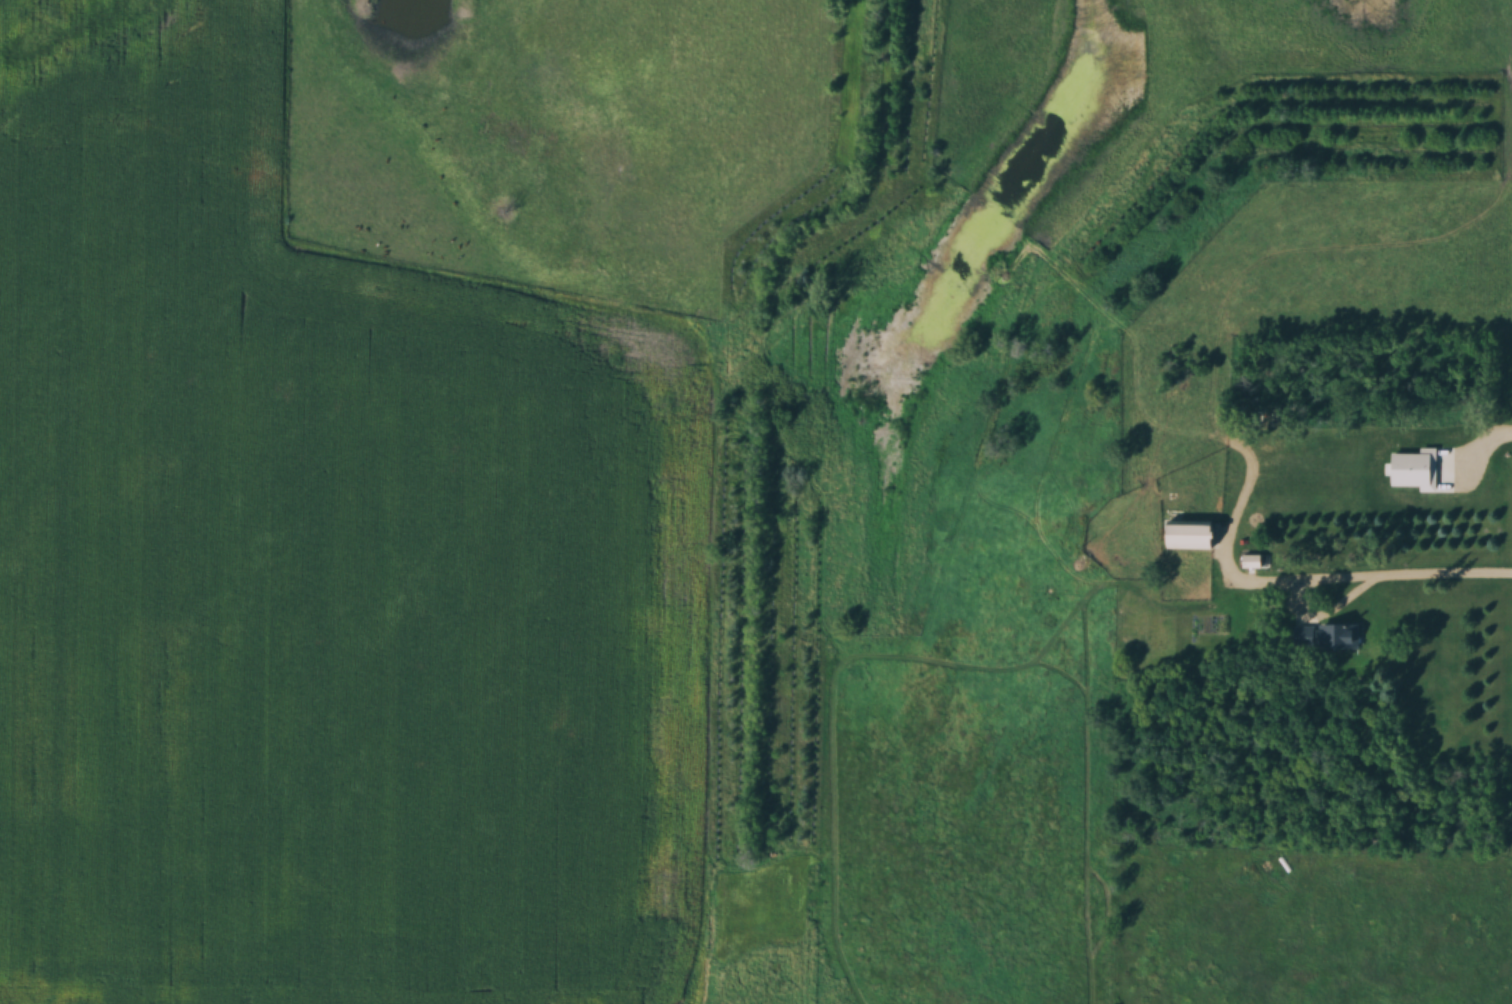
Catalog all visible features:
building: (1150, 484)
building: (1252, 563)
road: (1450, 572)
road: (1291, 601)
building: (1327, 637)

